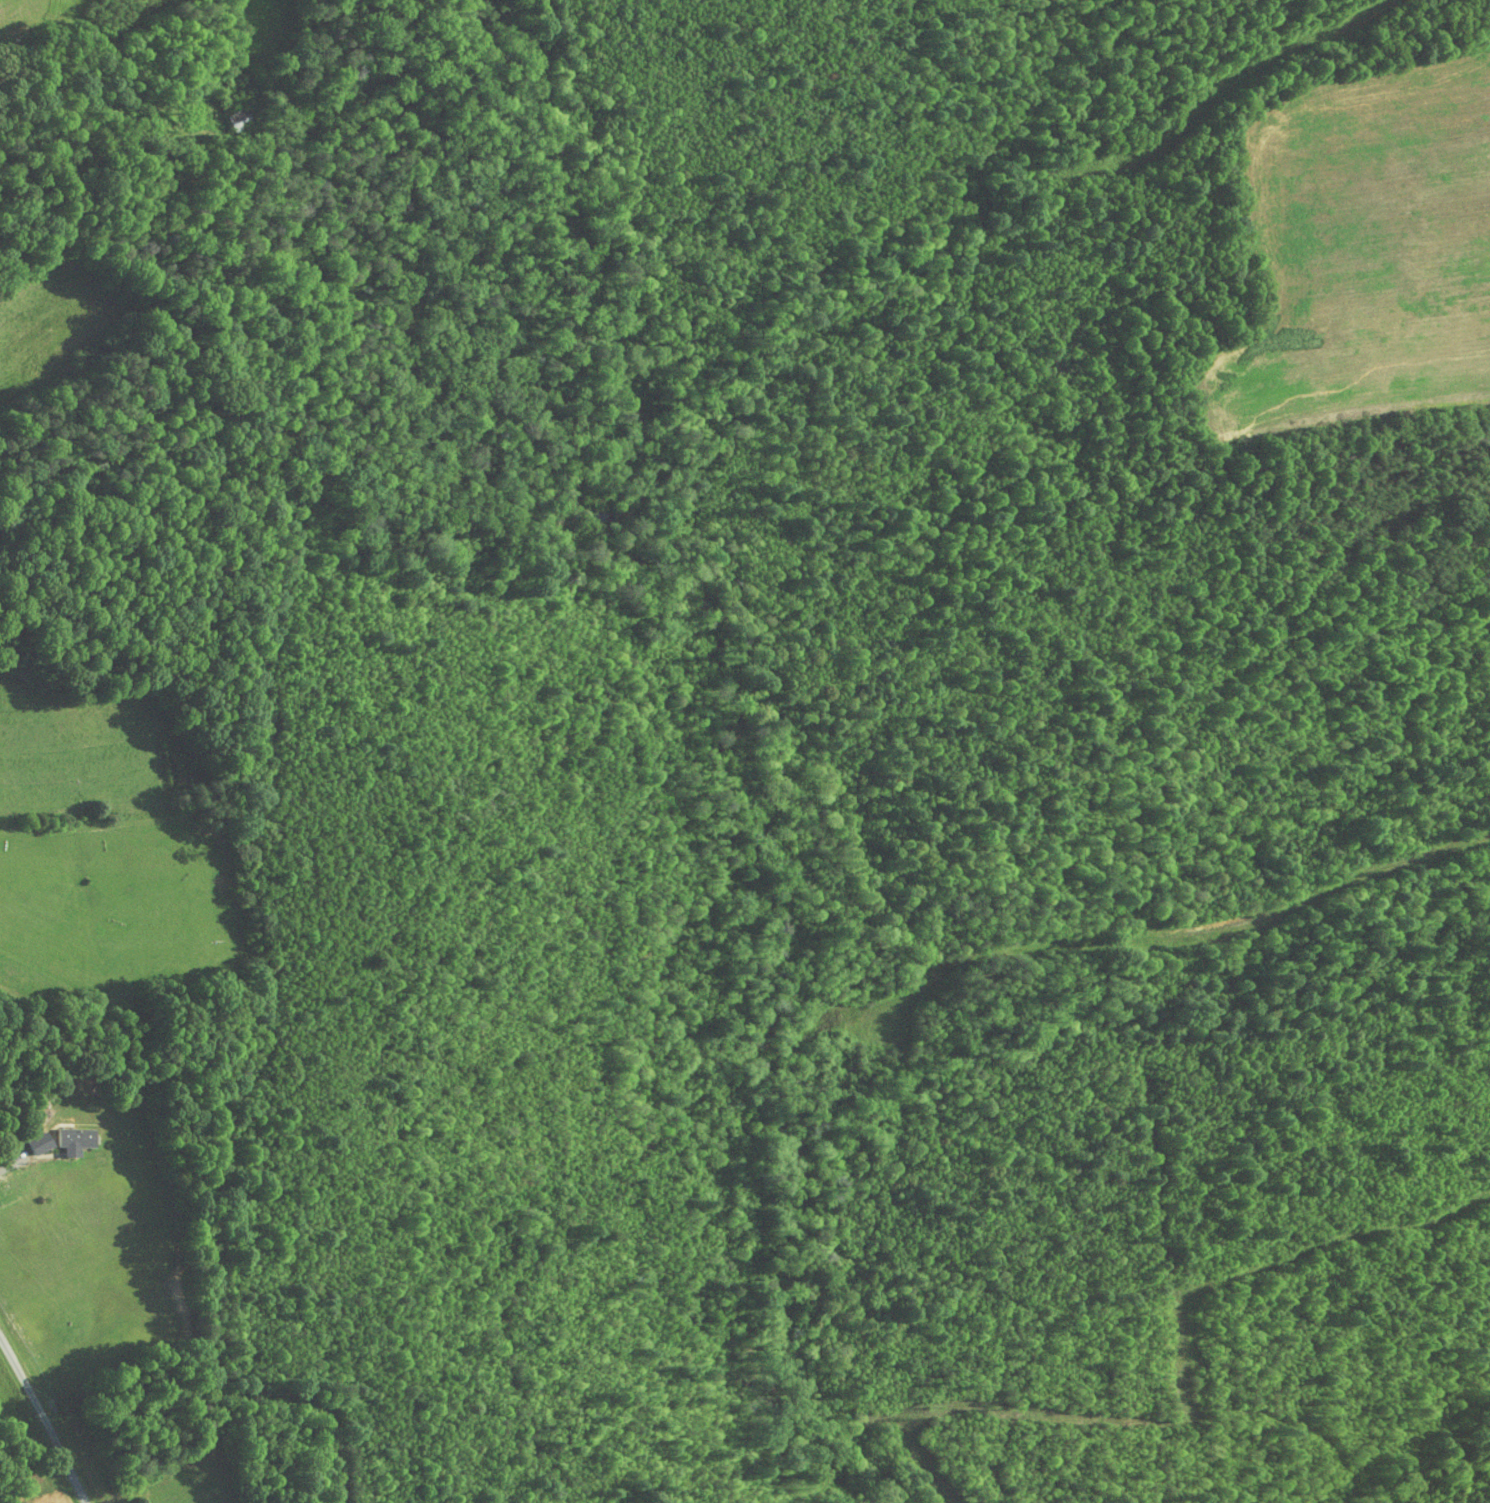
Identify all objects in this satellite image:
building: (63, 1133)
building: (28, 1136)
road: (10, 1161)
road: (44, 1420)

